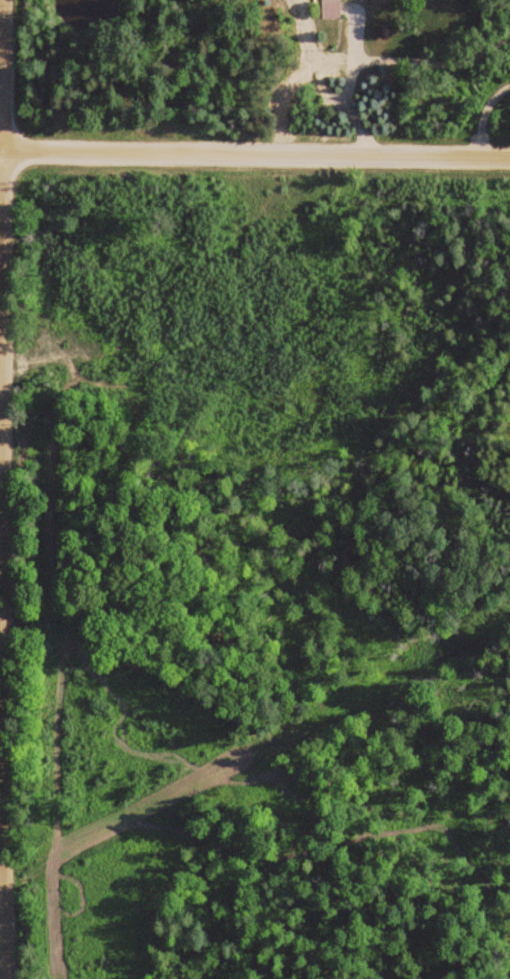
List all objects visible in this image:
road: (255, 150)
road: (0, 881)

